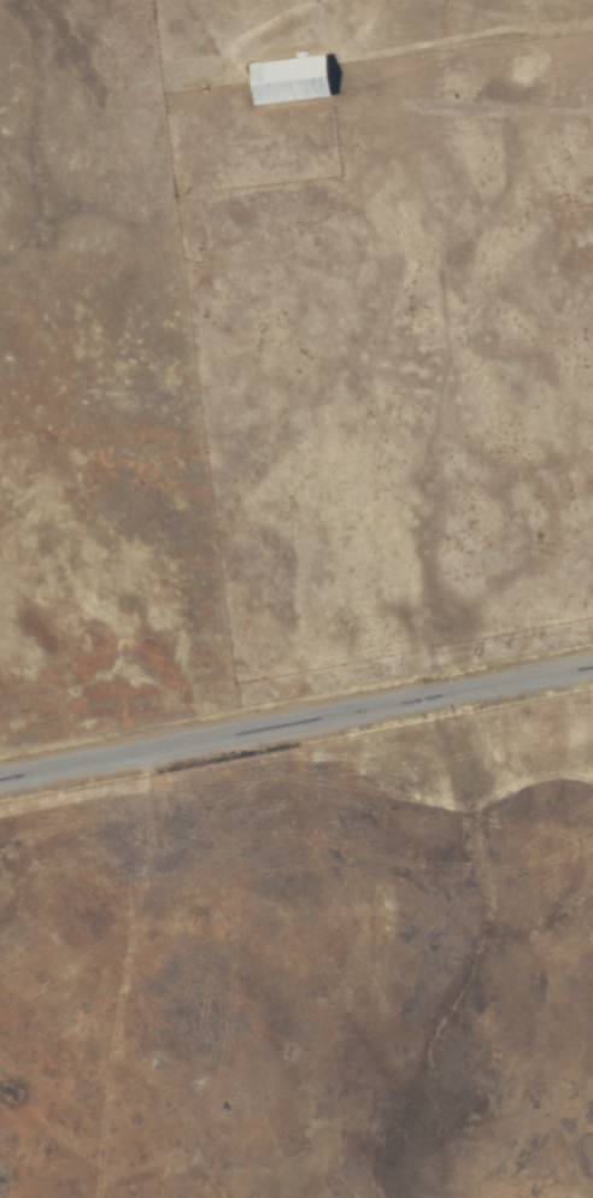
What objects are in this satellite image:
building: (290, 78)
road: (296, 721)

